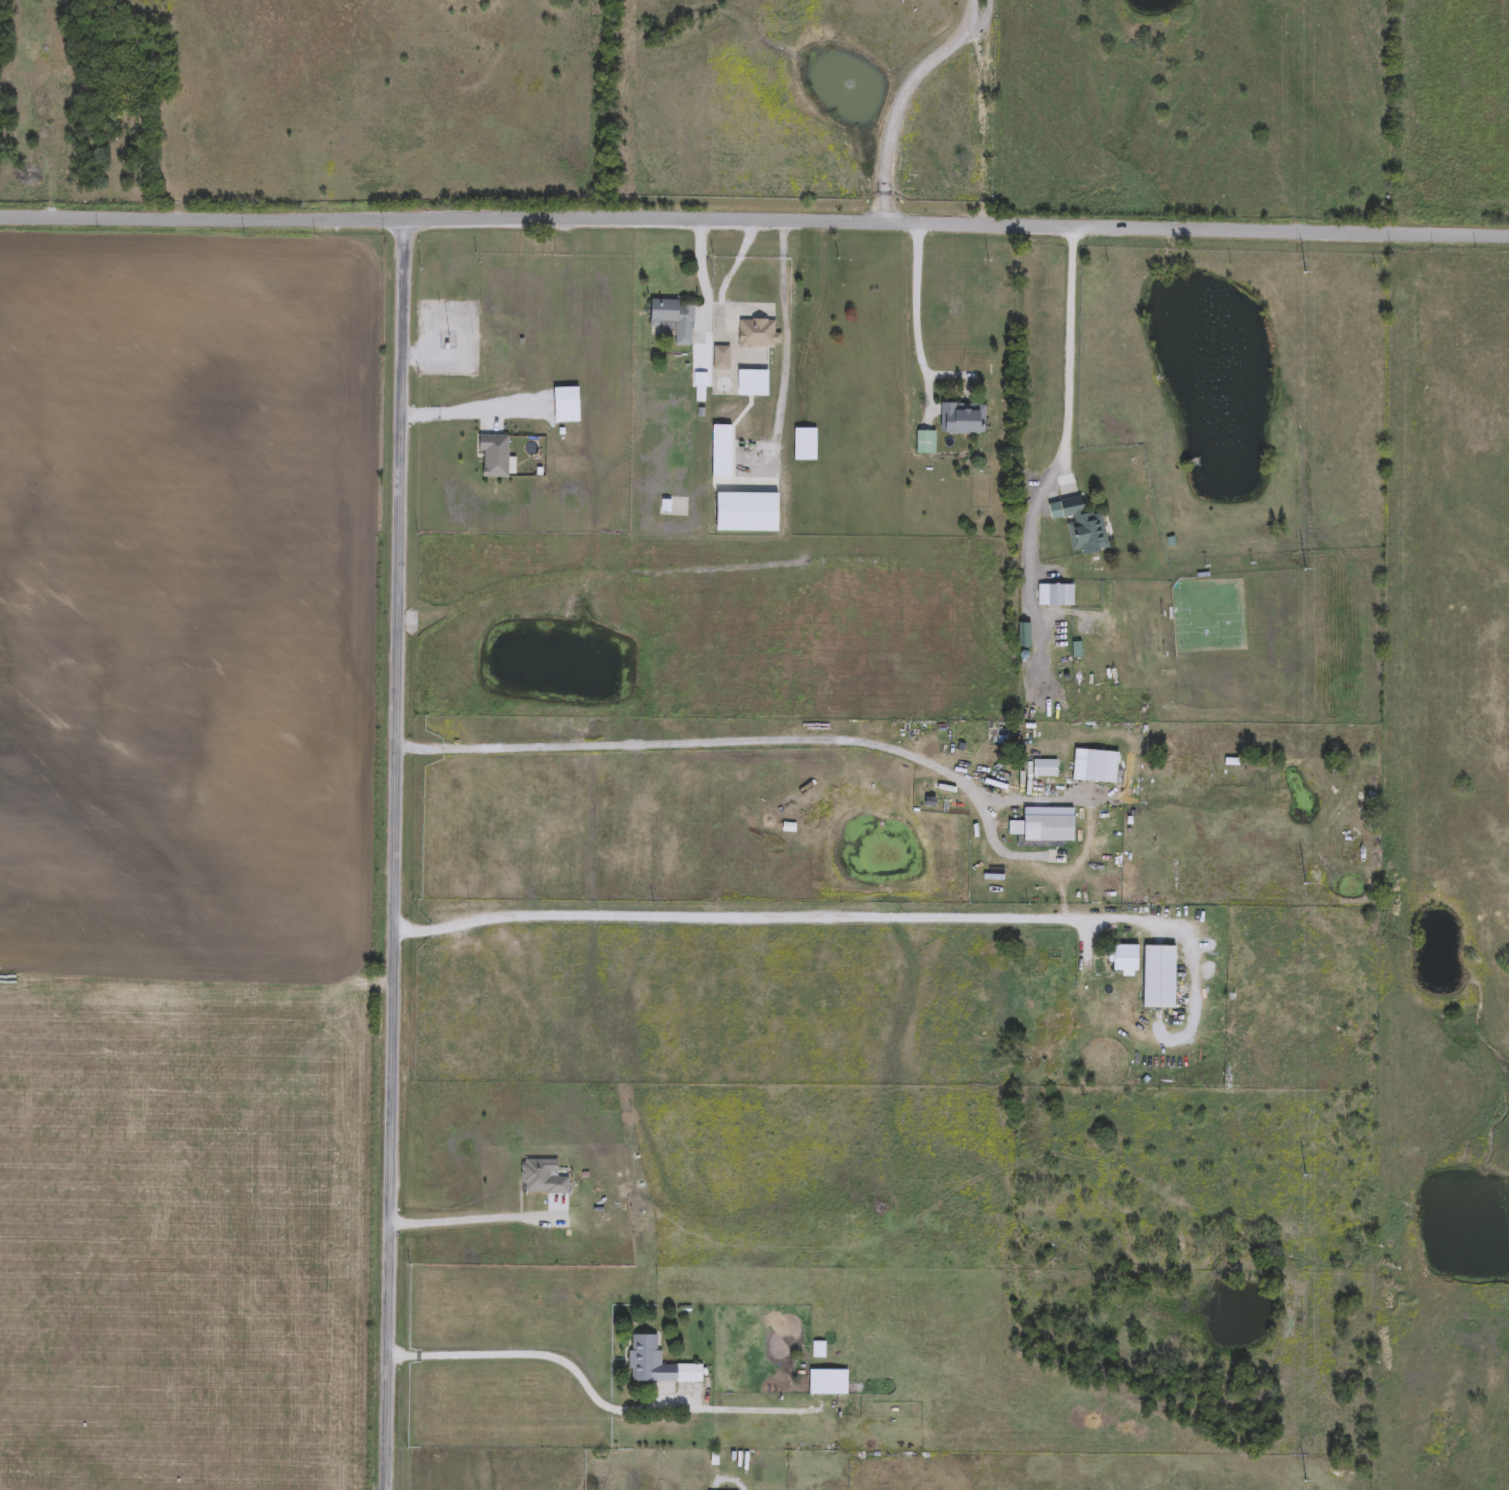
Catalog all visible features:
road: (908, 94)
road: (754, 217)
road: (700, 281)
road: (916, 298)
building: (674, 320)
building: (758, 334)
road: (786, 343)
road: (1069, 357)
building: (722, 359)
building: (754, 385)
building: (567, 407)
road: (468, 415)
building: (967, 421)
building: (806, 446)
building: (493, 456)
building: (722, 465)
building: (748, 514)
building: (1085, 527)
building: (1057, 597)
building: (1028, 636)
road: (715, 743)
building: (1097, 769)
building: (1045, 770)
building: (1050, 827)
building: (1351, 851)
road: (398, 858)
road: (776, 917)
building: (1128, 959)
building: (1161, 978)
building: (542, 1179)
road: (479, 1217)
road: (545, 1357)
building: (656, 1365)
building: (828, 1384)

